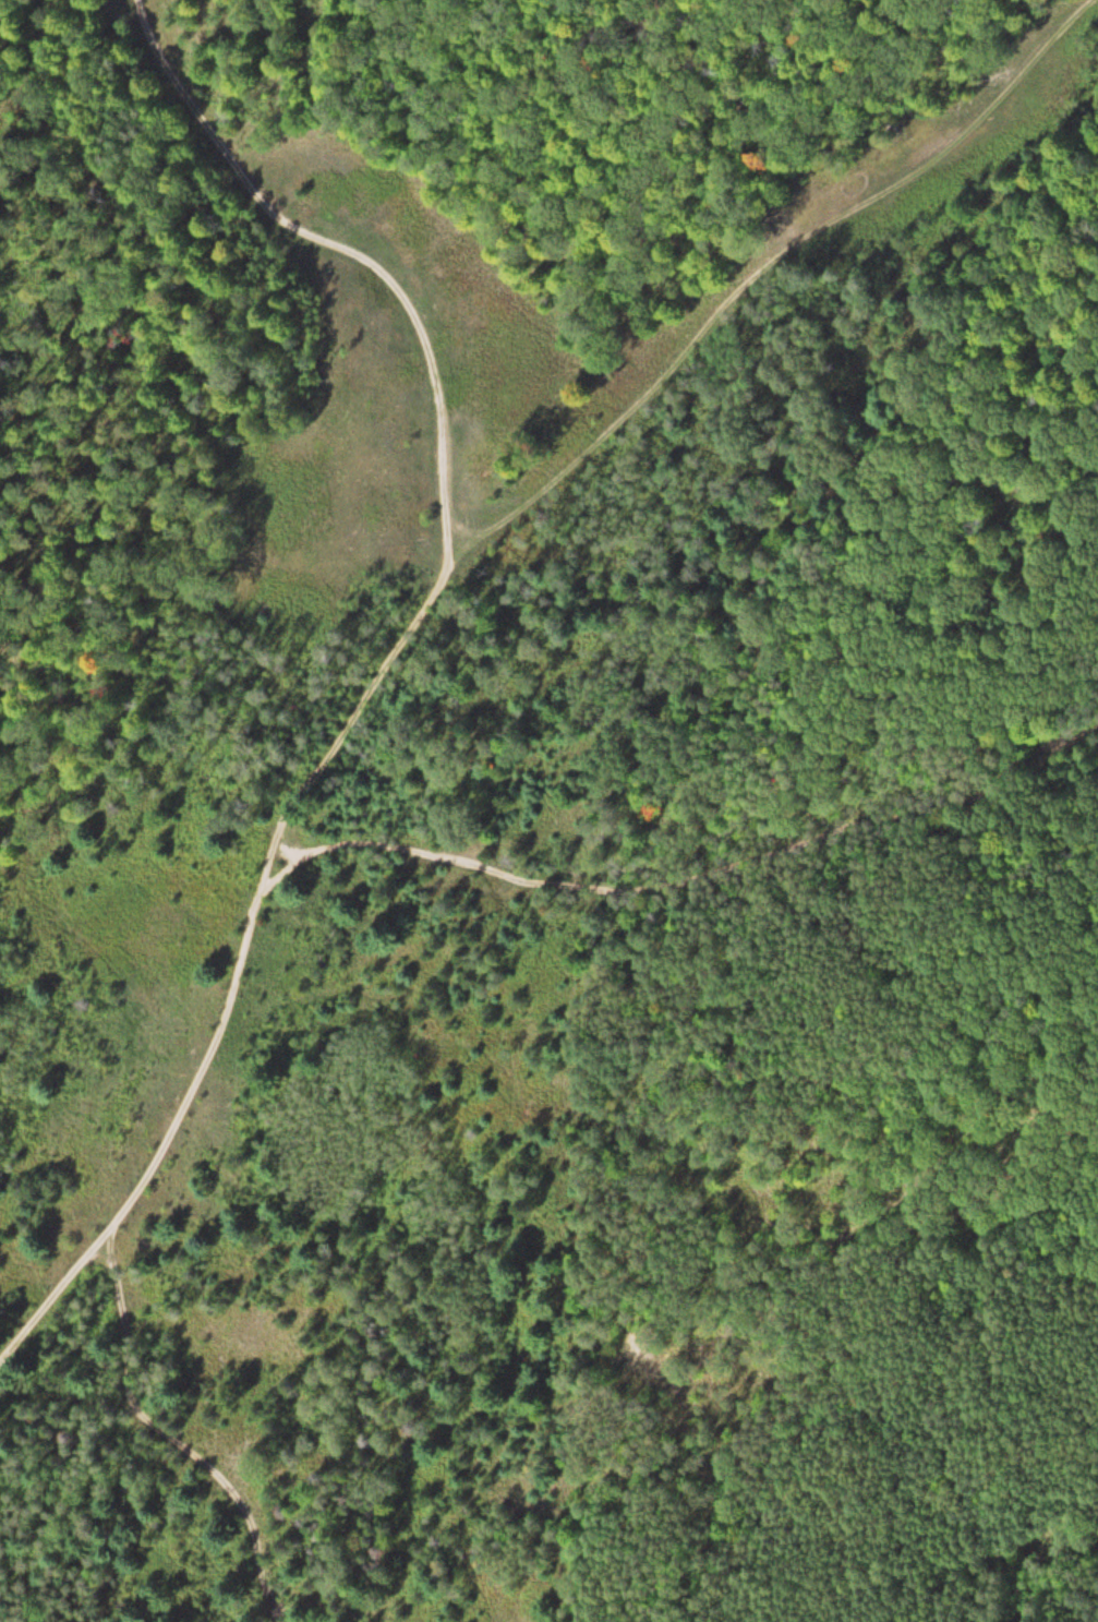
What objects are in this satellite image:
road: (443, 419)
road: (604, 821)
road: (289, 850)
road: (499, 873)
road: (123, 1289)
road: (253, 1551)

